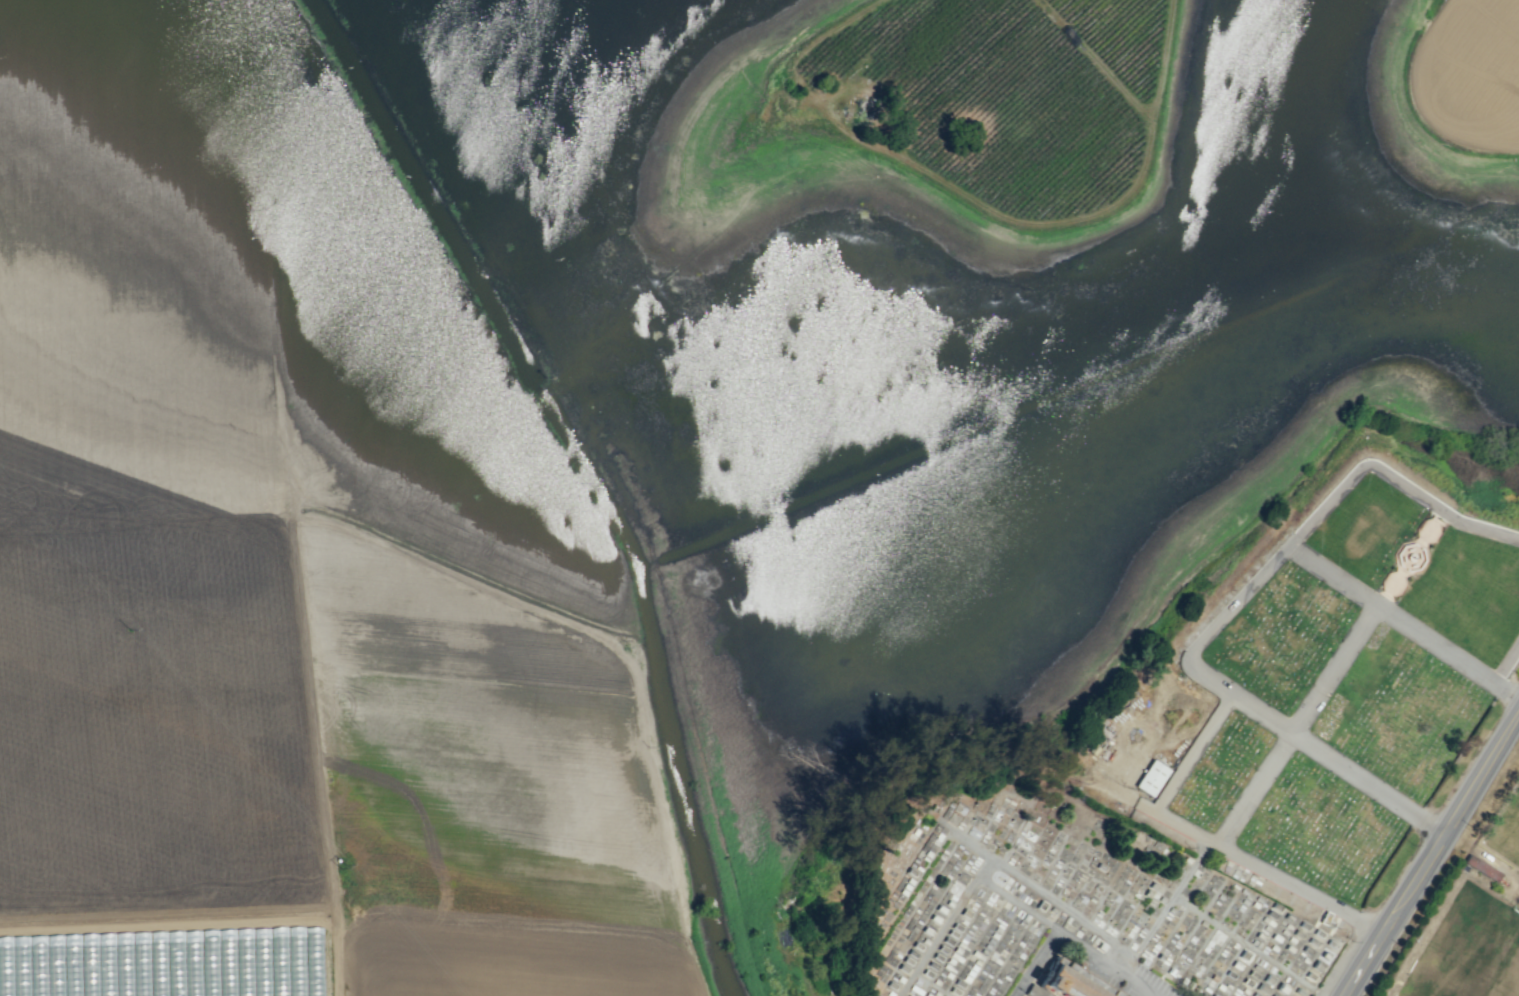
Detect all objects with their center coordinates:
crop: (649, 422)
park: (1320, 681)
building: (1151, 777)
crop: (779, 810)
crop: (1488, 815)
park: (1505, 832)
road: (1434, 860)
building: (1481, 867)
park: (1066, 901)
building: (1070, 981)

